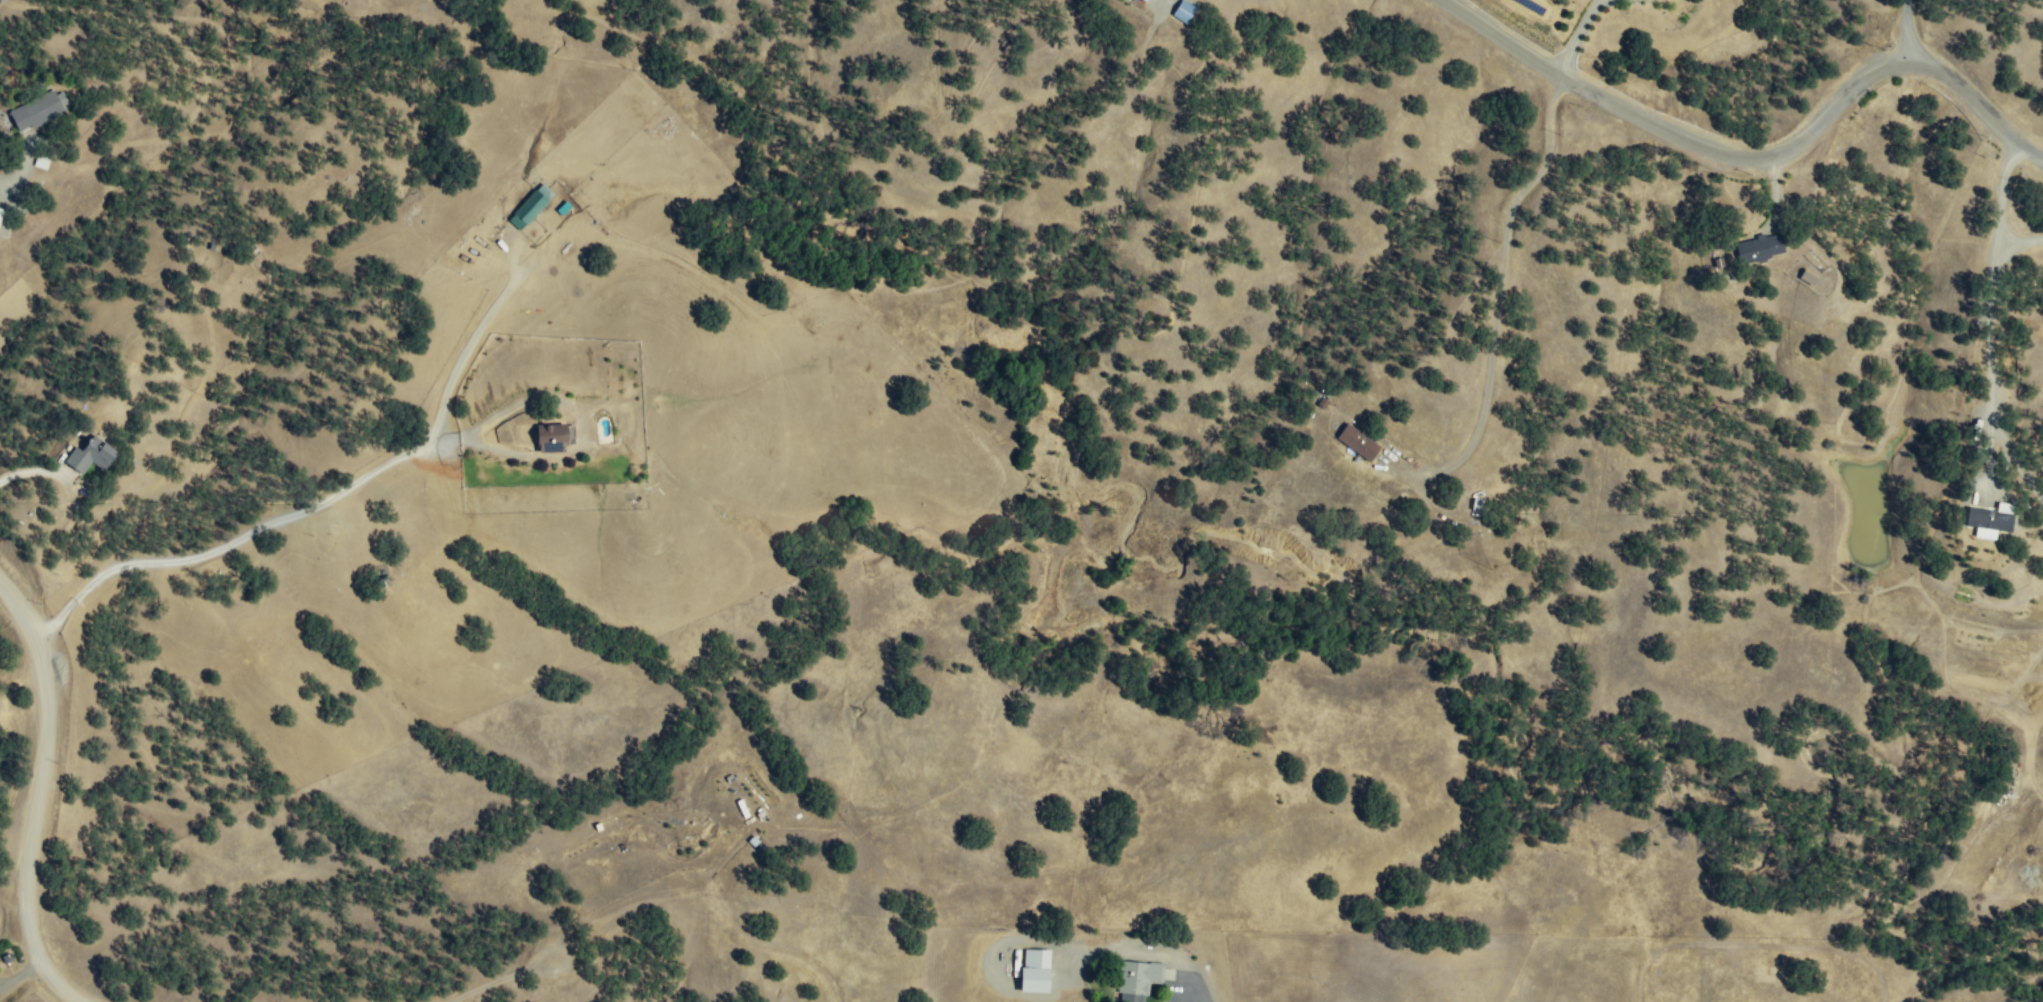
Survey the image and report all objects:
building: (1143, 0)
road: (1159, 3)
building: (1183, 10)
road: (1578, 33)
building: (35, 109)
road: (1757, 160)
building: (41, 161)
building: (530, 206)
building: (1, 212)
building: (1760, 247)
building: (1808, 276)
road: (1990, 309)
building: (553, 436)
building: (1358, 441)
building: (88, 455)
building: (1990, 519)
road: (227, 545)
road: (41, 790)
building: (1034, 970)
building: (1138, 979)
road: (1197, 994)

